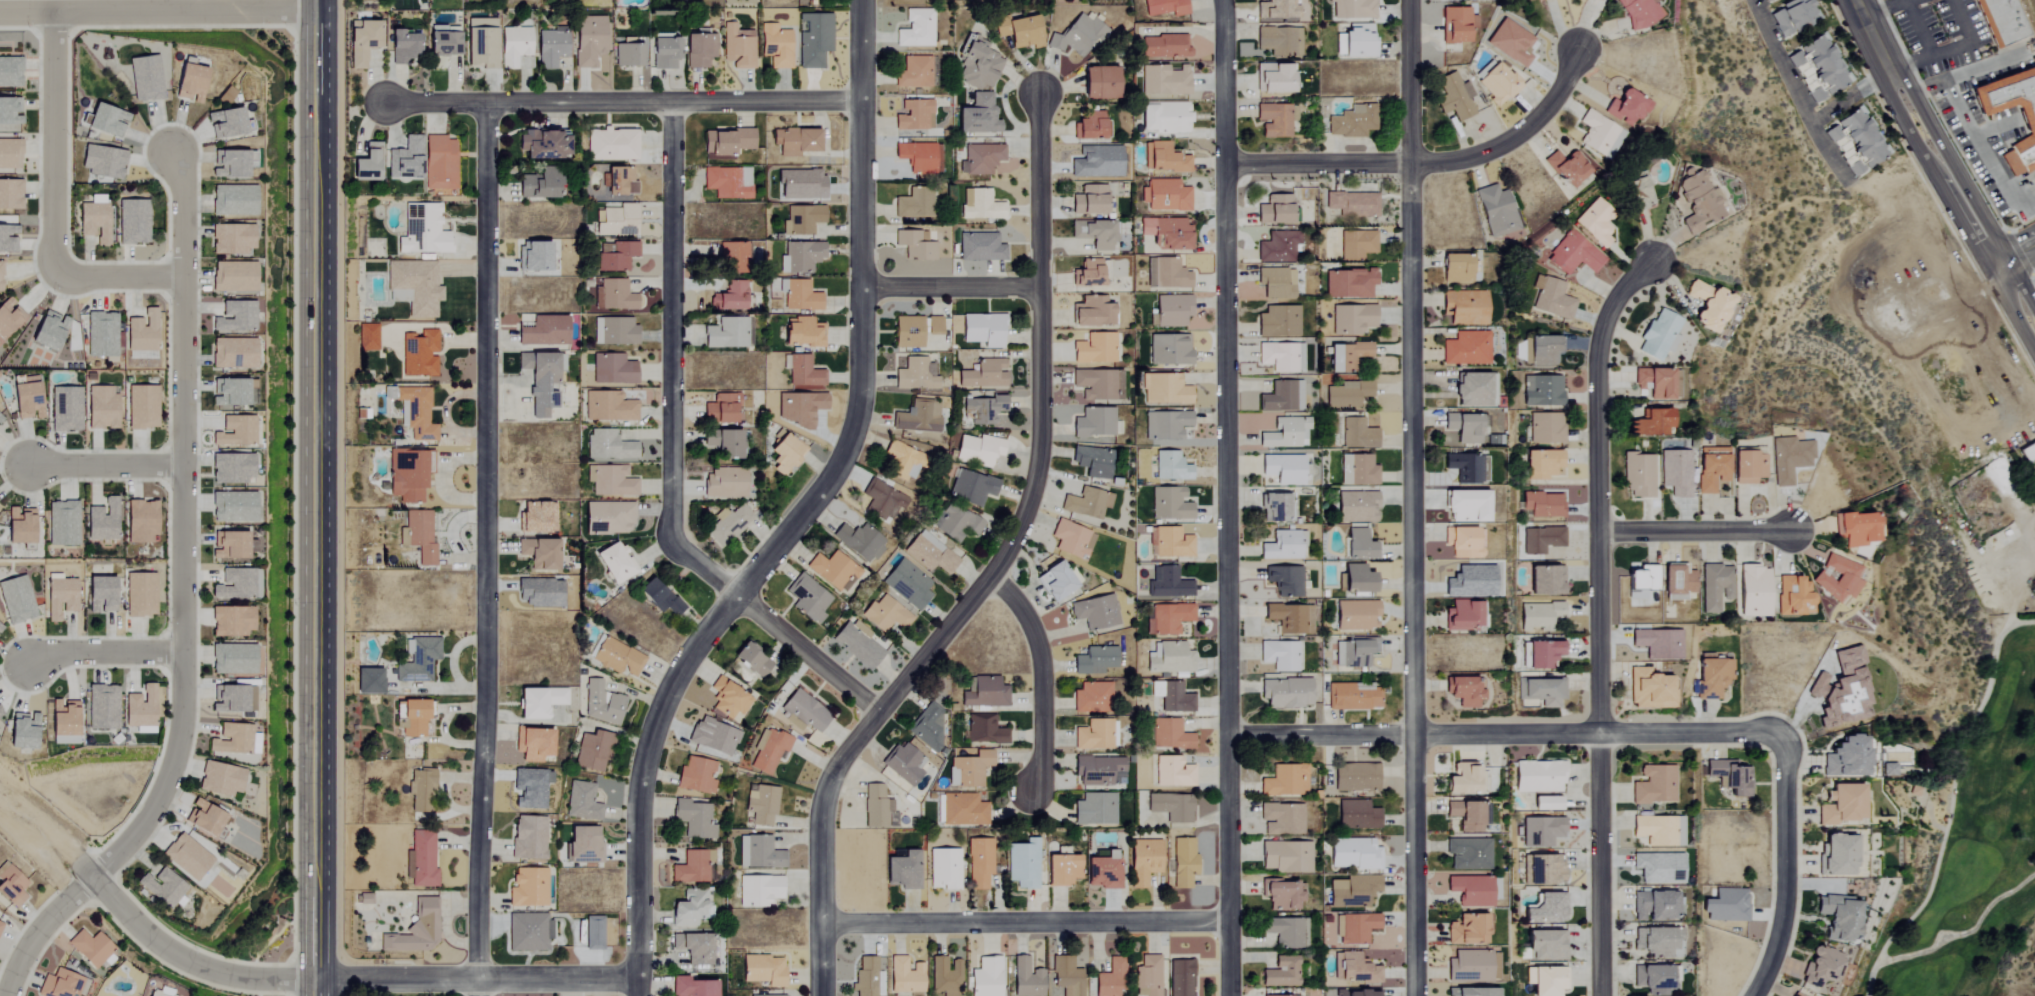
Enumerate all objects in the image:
building: (1530, 0)
building: (1599, 0)
building: (1765, 0)
building: (1164, 7)
road: (1887, 8)
building: (1274, 9)
building: (1352, 9)
road: (157, 11)
building: (1638, 12)
building: (1793, 16)
building: (2001, 20)
building: (1455, 24)
road: (1918, 28)
building: (915, 29)
building: (1018, 32)
parking lot: (1941, 34)
building: (1077, 36)
building: (814, 40)
building: (589, 41)
building: (1278, 41)
building: (1354, 41)
building: (362, 42)
building: (480, 42)
building: (1510, 43)
building: (775, 46)
building: (402, 47)
building: (513, 47)
building: (738, 47)
building: (1164, 47)
building: (552, 48)
road: (1952, 49)
building: (443, 50)
building: (698, 51)
building: (664, 53)
building: (628, 56)
building: (980, 66)
building: (1818, 68)
building: (10, 72)
building: (913, 72)
road: (1963, 72)
building: (1273, 78)
building: (144, 79)
building: (1164, 80)
building: (188, 83)
building: (1098, 83)
building: (1497, 84)
building: (1454, 96)
road: (626, 102)
road: (1800, 105)
building: (1625, 106)
building: (9, 115)
building: (913, 116)
building: (977, 116)
building: (1163, 117)
building: (1275, 119)
building: (105, 121)
building: (1352, 122)
building: (227, 124)
building: (1089, 126)
building: (2029, 127)
building: (1599, 135)
road: (50, 141)
building: (794, 141)
building: (726, 142)
parking lot: (1988, 142)
building: (1856, 143)
building: (613, 144)
building: (541, 145)
road: (1979, 152)
building: (9, 154)
building: (916, 157)
building: (1163, 158)
building: (405, 159)
building: (980, 159)
road: (1426, 159)
building: (1097, 161)
building: (103, 163)
building: (438, 163)
building: (228, 164)
building: (366, 165)
road: (1944, 167)
building: (1566, 168)
building: (727, 182)
building: (536, 184)
building: (800, 185)
building: (1645, 193)
building: (10, 195)
building: (1166, 196)
building: (232, 200)
building: (1089, 201)
building: (1697, 202)
building: (913, 204)
building: (1352, 204)
building: (1274, 210)
building: (1495, 211)
building: (802, 219)
building: (615, 220)
building: (93, 222)
building: (132, 222)
building: (1596, 222)
building: (423, 230)
building: (1167, 233)
building: (8, 234)
building: (1094, 234)
building: (231, 239)
building: (914, 245)
building: (1356, 245)
building: (1277, 247)
building: (980, 248)
building: (1573, 255)
road: (2015, 255)
building: (531, 256)
building: (617, 256)
building: (731, 257)
building: (800, 257)
building: (1456, 269)
road: (114, 274)
building: (1166, 274)
building: (1088, 275)
building: (232, 277)
park: (2034, 277)
building: (0, 279)
building: (1276, 283)
building: (1349, 284)
building: (415, 286)
road: (953, 286)
building: (615, 296)
building: (800, 296)
building: (729, 297)
building: (1553, 300)
building: (1707, 305)
building: (1464, 307)
building: (1170, 310)
building: (1091, 312)
building: (8, 316)
building: (234, 317)
building: (1352, 319)
building: (1277, 322)
building: (932, 326)
building: (982, 330)
building: (47, 331)
building: (614, 331)
building: (542, 332)
building: (801, 332)
building: (907, 332)
building: (728, 333)
building: (100, 335)
building: (141, 336)
building: (1659, 336)
building: (368, 337)
road: (1040, 341)
building: (1094, 349)
building: (1465, 349)
building: (1169, 350)
building: (1543, 351)
building: (232, 353)
building: (418, 354)
building: (1280, 357)
building: (1349, 357)
building: (558, 368)
building: (612, 369)
building: (803, 372)
building: (983, 374)
building: (915, 375)
building: (538, 382)
building: (1654, 383)
building: (1098, 385)
building: (1164, 390)
building: (1542, 391)
building: (251, 392)
building: (228, 393)
building: (1347, 394)
building: (1281, 397)
building: (22, 398)
building: (100, 408)
building: (141, 408)
building: (608, 408)
building: (801, 408)
building: (65, 409)
building: (720, 409)
building: (982, 410)
building: (415, 413)
building: (917, 417)
building: (0, 419)
building: (1652, 423)
building: (1165, 425)
building: (1095, 426)
building: (1546, 428)
building: (1460, 430)
building: (234, 432)
building: (1284, 433)
building: (1356, 434)
building: (722, 443)
building: (608, 446)
building: (978, 449)
building: (2028, 452)
building: (783, 453)
road: (670, 458)
building: (1788, 460)
building: (902, 461)
building: (1092, 462)
road: (102, 464)
building: (1542, 464)
building: (1170, 467)
building: (1748, 467)
building: (231, 468)
building: (1466, 468)
building: (1281, 469)
building: (1711, 469)
building: (1359, 470)
building: (1675, 473)
building: (408, 475)
building: (1638, 476)
building: (610, 481)
building: (723, 483)
building: (971, 487)
road: (315, 489)
road: (1231, 498)
road: (1412, 498)
building: (883, 500)
building: (1086, 504)
building: (1169, 504)
building: (1543, 504)
building: (1465, 506)
building: (232, 507)
building: (1355, 507)
road: (802, 512)
building: (532, 518)
building: (550, 518)
building: (608, 518)
building: (102, 521)
building: (140, 521)
building: (956, 523)
building: (61, 524)
building: (726, 525)
building: (18, 526)
road: (180, 529)
building: (1854, 529)
road: (1698, 530)
building: (418, 537)
building: (1071, 540)
building: (1542, 540)
building: (858, 542)
building: (1171, 543)
building: (1463, 543)
building: (230, 545)
building: (1282, 545)
building: (1359, 545)
road: (484, 549)
building: (537, 554)
building: (930, 554)
road: (2010, 562)
building: (614, 564)
building: (832, 571)
building: (1836, 578)
building: (1355, 580)
building: (1284, 581)
building: (1055, 582)
building: (1470, 582)
building: (1544, 582)
building: (1640, 582)
building: (1677, 583)
building: (907, 584)
building: (237, 585)
building: (1169, 585)
building: (1714, 587)
building: (538, 592)
building: (1752, 592)
building: (99, 595)
building: (141, 595)
building: (1791, 596)
building: (59, 597)
building: (657, 598)
building: (807, 599)
building: (16, 600)
building: (1094, 613)
building: (885, 615)
building: (1355, 616)
building: (1462, 616)
building: (1540, 616)
building: (1169, 617)
building: (1289, 619)
road: (1598, 619)
building: (231, 622)
building: (856, 644)
building: (1658, 644)
building: (1353, 652)
road: (100, 653)
building: (1543, 655)
building: (1278, 656)
building: (1168, 657)
building: (617, 658)
building: (232, 659)
building: (750, 659)
building: (417, 660)
building: (1094, 661)
road: (1043, 674)
building: (1712, 678)
building: (369, 681)
building: (1650, 690)
building: (983, 691)
building: (1543, 691)
building: (1840, 691)
building: (1462, 692)
building: (1285, 693)
building: (234, 698)
building: (726, 698)
building: (1092, 698)
building: (1351, 698)
building: (1175, 699)
building: (538, 701)
building: (600, 703)
building: (101, 707)
building: (139, 707)
building: (804, 710)
building: (0, 711)
building: (415, 716)
building: (62, 722)
building: (928, 724)
building: (21, 730)
building: (984, 730)
road: (1506, 733)
building: (1095, 734)
building: (1170, 735)
building: (712, 736)
building: (234, 739)
building: (531, 743)
building: (593, 750)
building: (770, 751)
building: (1846, 757)
building: (1896, 761)
road: (843, 762)
building: (904, 763)
building: (968, 769)
building: (1099, 770)
building: (1172, 771)
building: (696, 775)
building: (1539, 776)
building: (1730, 776)
building: (1355, 777)
building: (220, 779)
building: (1464, 779)
building: (1285, 780)
building: (1654, 785)
building: (530, 788)
building: (421, 790)
building: (581, 801)
building: (1546, 803)
building: (760, 804)
building: (1171, 807)
building: (877, 808)
building: (963, 809)
building: (1094, 809)
building: (1356, 814)
building: (1465, 815)
building: (203, 818)
building: (1281, 818)
building: (694, 819)
building: (1658, 829)
building: (1541, 831)
building: (528, 837)
building: (583, 844)
park: (1961, 845)
building: (758, 853)
building: (1468, 853)
building: (1353, 854)
building: (1841, 855)
building: (186, 856)
building: (1285, 856)
building: (422, 859)
building: (979, 862)
building: (1143, 862)
building: (1183, 862)
building: (1022, 864)
building: (694, 867)
road: (1788, 867)
building: (944, 868)
building: (1061, 868)
building: (1658, 868)
building: (1544, 869)
building: (904, 870)
building: (1102, 872)
building: (11, 886)
building: (161, 886)
building: (527, 888)
building: (758, 890)
building: (1471, 890)
building: (1352, 891)
building: (1281, 895)
building: (1653, 905)
building: (1726, 905)
building: (688, 908)
building: (1545, 908)
building: (1837, 917)
road: (1030, 922)
building: (0, 924)
building: (1357, 927)
road: (33, 929)
building: (416, 930)
building: (1466, 930)
building: (528, 931)
building: (593, 932)
building: (1287, 932)
building: (1657, 941)
building: (1545, 945)
building: (694, 947)
building: (90, 948)
road: (184, 961)
building: (1473, 965)
building: (1819, 966)
building: (1353, 968)
building: (762, 970)
building: (1281, 972)
building: (905, 975)
building: (945, 976)
building: (1066, 976)
building: (1147, 976)
building: (985, 977)
building: (1180, 977)
road: (476, 978)
building: (1026, 978)
building: (1110, 978)
building: (1651, 979)
building: (1546, 980)
building: (61, 984)
road: (314, 987)
building: (693, 987)
building: (159, 992)
building: (1470, 992)
building: (1357, 993)
building: (1794, 994)
building: (762, 995)
building: (1291, 995)

